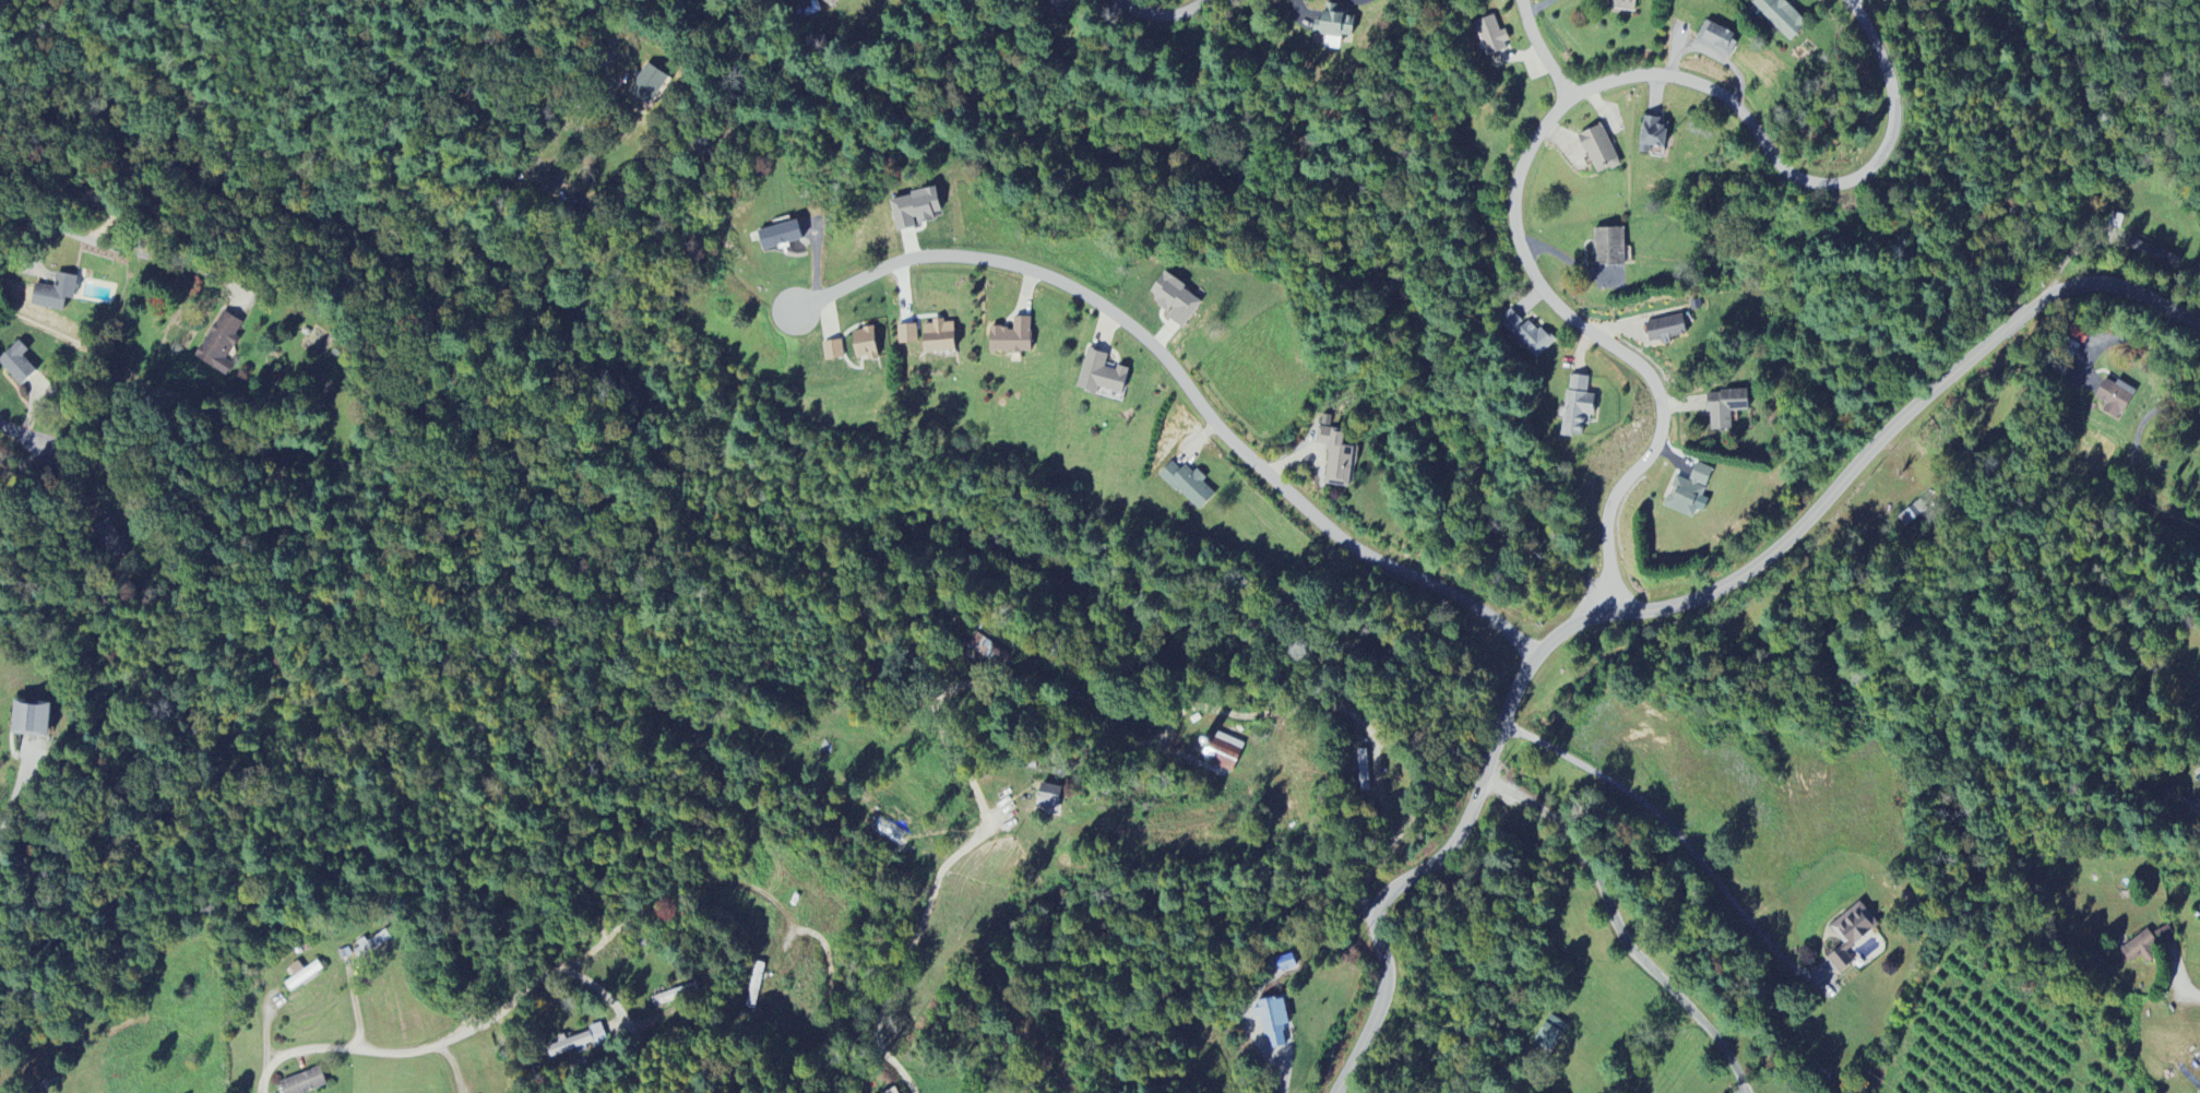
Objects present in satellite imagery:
building: (830, 2)
building: (1622, 4)
building: (1057, 7)
building: (1777, 16)
road: (1160, 17)
building: (1335, 27)
building: (1491, 36)
building: (1715, 39)
road: (1541, 50)
building: (649, 85)
road: (582, 100)
road: (1546, 123)
building: (1653, 134)
building: (1600, 151)
building: (914, 210)
building: (2116, 221)
building: (778, 236)
road: (128, 243)
building: (1609, 247)
building: (53, 294)
building: (1174, 300)
building: (1665, 330)
building: (1526, 334)
building: (2079, 334)
building: (906, 335)
building: (938, 337)
building: (1011, 337)
building: (219, 344)
building: (864, 344)
building: (832, 352)
building: (16, 365)
building: (1101, 375)
road: (1187, 388)
building: (2115, 399)
building: (1577, 405)
building: (1724, 408)
road: (33, 447)
building: (1334, 455)
building: (1188, 486)
building: (1689, 492)
building: (108, 539)
road: (1670, 608)
building: (985, 649)
building: (28, 721)
building: (1224, 752)
building: (1363, 771)
building: (1048, 798)
road: (12, 805)
road: (1670, 828)
road: (932, 896)
road: (1619, 928)
building: (1851, 934)
road: (603, 938)
building: (301, 975)
road: (17, 989)
road: (2190, 997)
road: (621, 1015)
building: (1273, 1022)
building: (1549, 1034)
building: (578, 1043)
building: (304, 1083)
building: (893, 1091)

